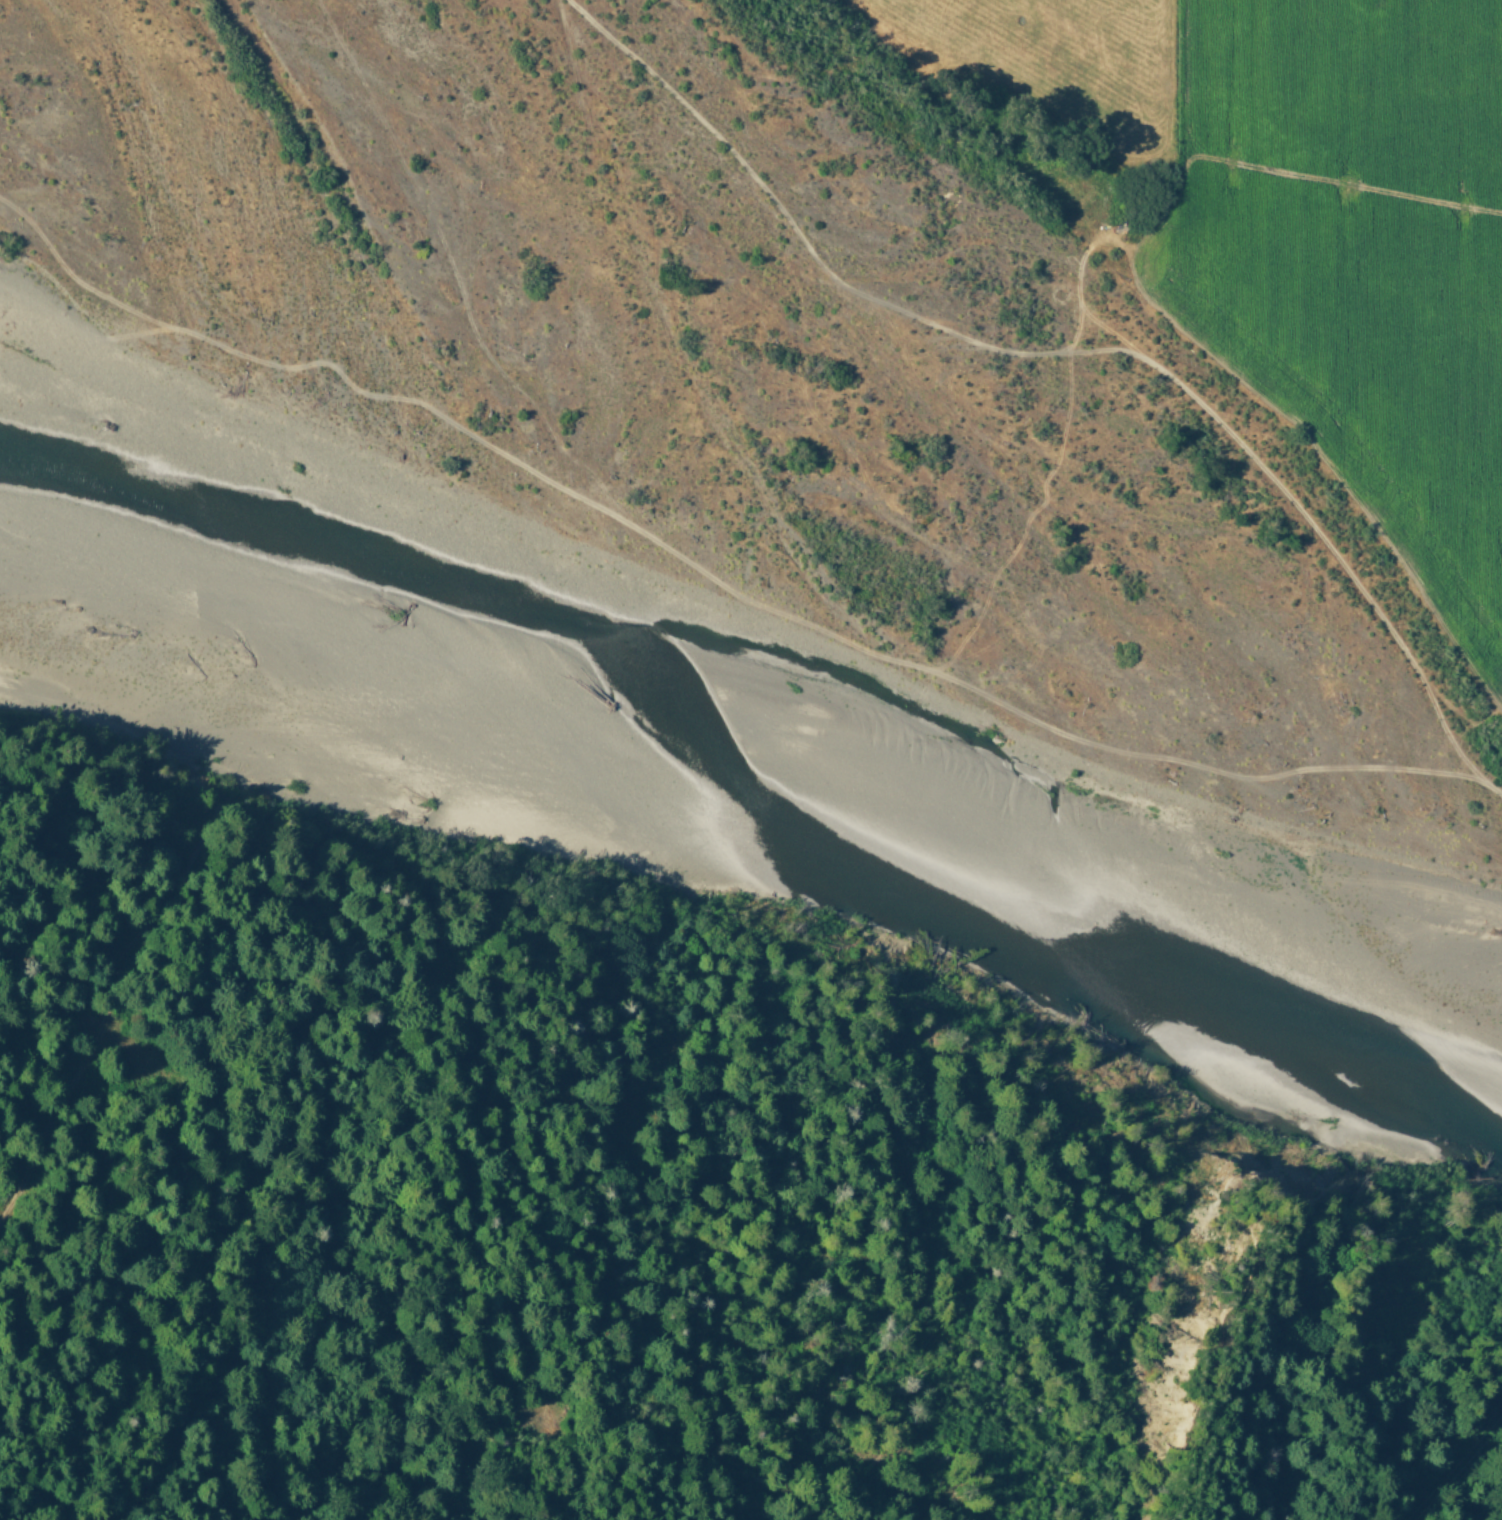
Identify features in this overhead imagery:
river: (392, 0)
river: (639, 382)
river: (1051, 899)
river: (1230, 1011)
river: (1362, 1078)
river: (1494, 1151)
river: (1499, 1178)
river: (1499, 1184)

